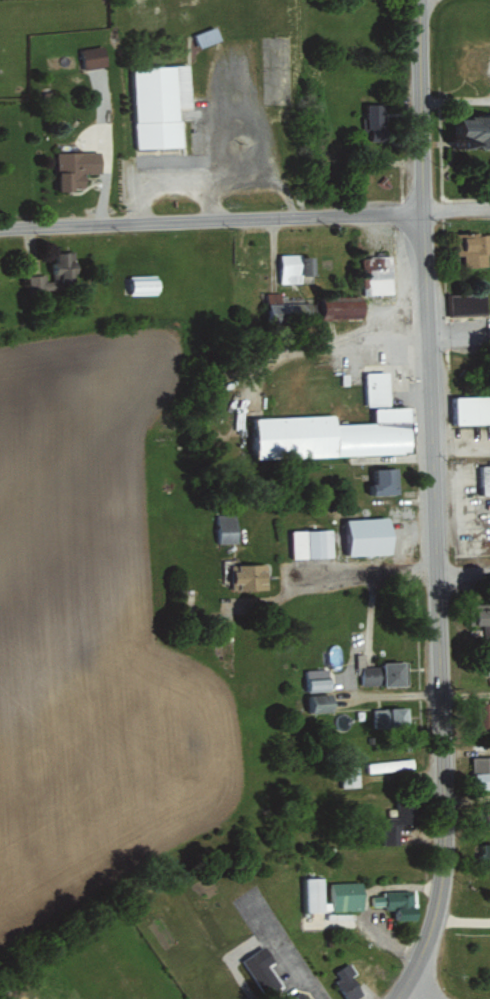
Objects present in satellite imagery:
building: (209, 36)
building: (94, 56)
park: (275, 69)
road: (456, 99)
building: (158, 103)
building: (377, 118)
building: (477, 131)
building: (76, 168)
road: (456, 210)
road: (211, 222)
building: (473, 248)
building: (297, 267)
building: (57, 274)
building: (378, 274)
building: (146, 286)
building: (466, 304)
building: (343, 309)
building: (289, 310)
road: (459, 332)
building: (469, 409)
building: (339, 429)
road: (461, 453)
building: (484, 479)
building: (383, 482)
road: (433, 502)
building: (227, 528)
building: (369, 536)
building: (307, 544)
road: (463, 569)
road: (364, 570)
building: (250, 576)
building: (484, 626)
building: (383, 674)
building: (316, 679)
building: (318, 703)
building: (390, 717)
building: (484, 717)
building: (388, 765)
building: (480, 765)
building: (488, 817)
building: (398, 821)
building: (486, 855)
building: (332, 895)
building: (395, 903)
building: (262, 970)
building: (347, 981)
road: (421, 995)
building: (294, 996)

